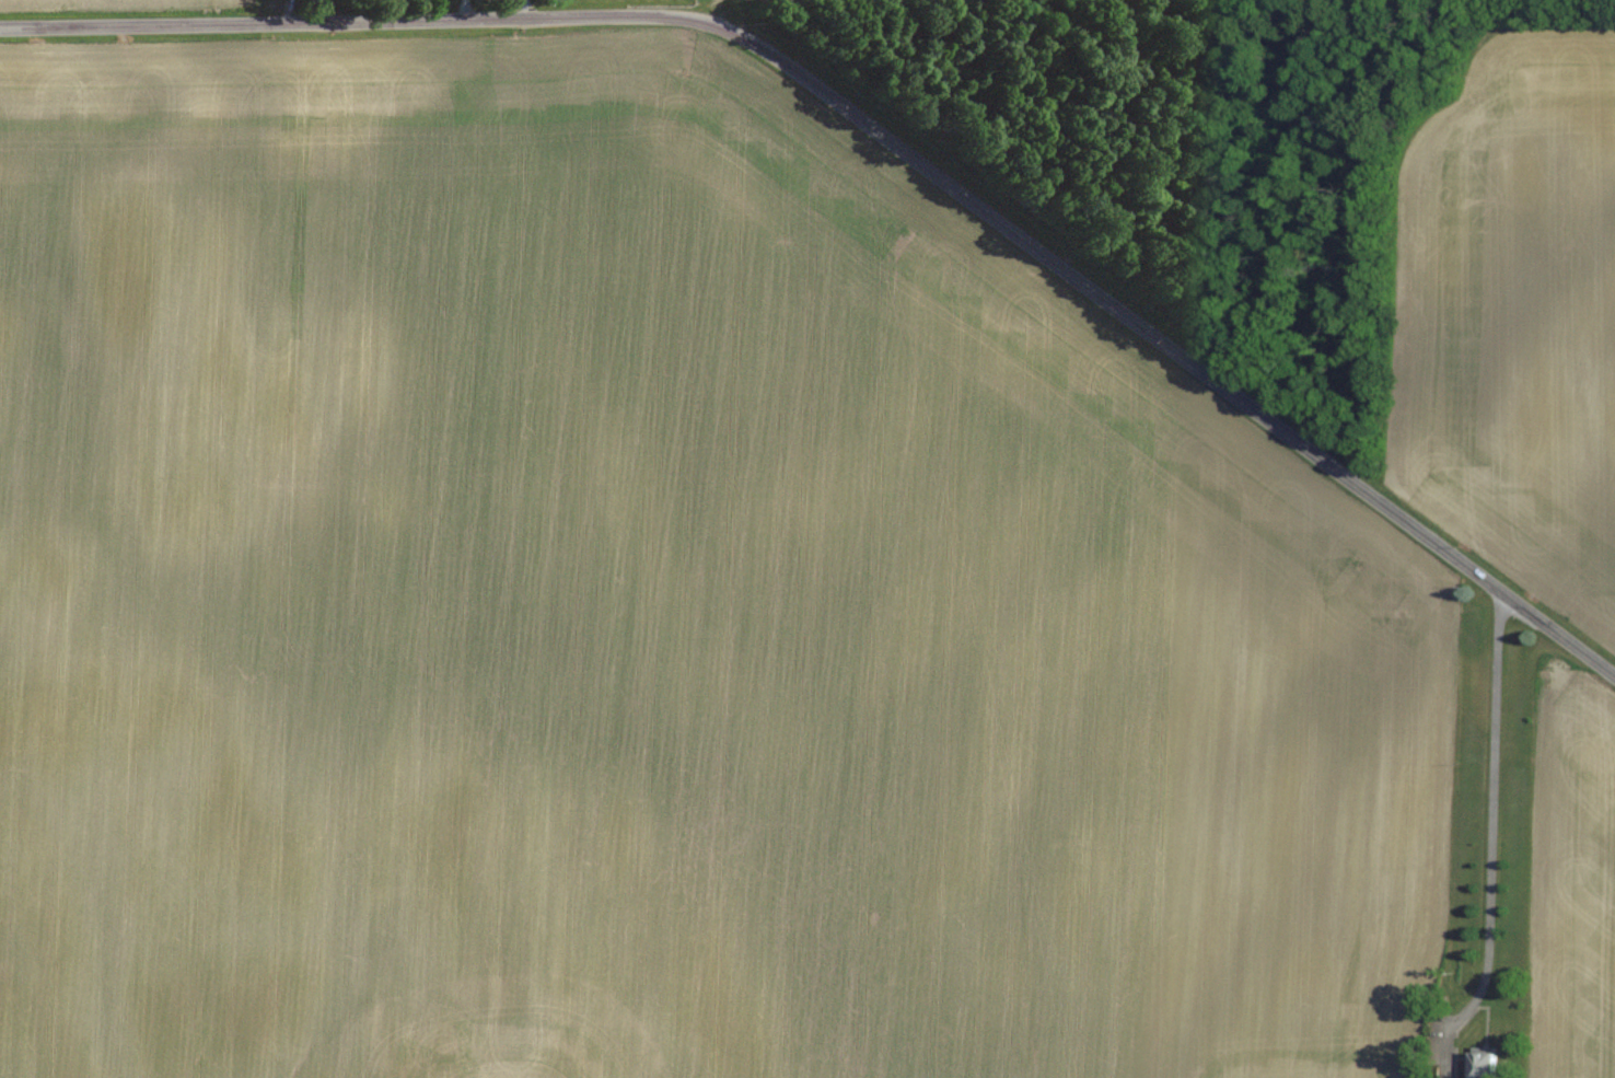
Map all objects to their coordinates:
road: (879, 135)
road: (1489, 819)
building: (1487, 1062)
building: (1453, 1077)

